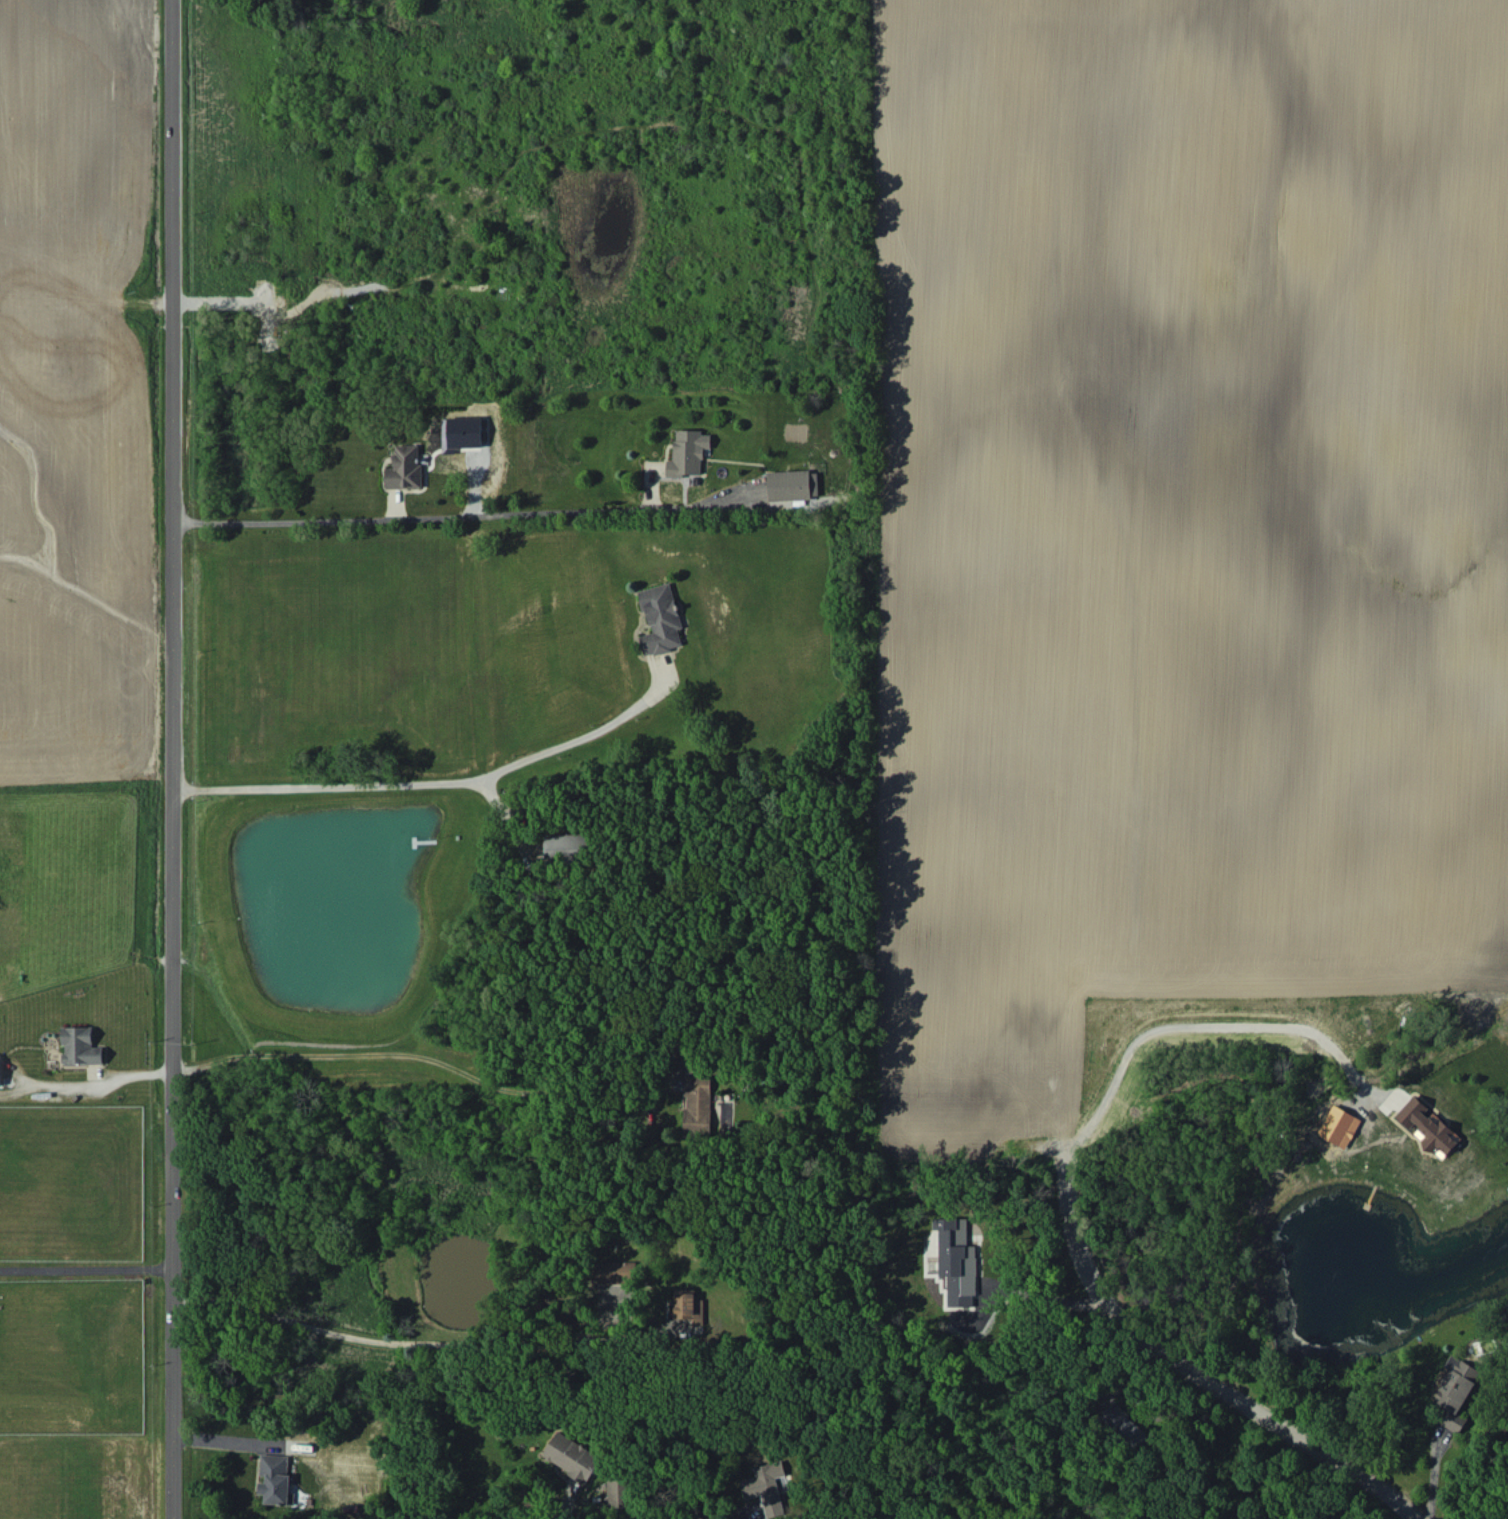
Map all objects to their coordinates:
building: (462, 439)
building: (688, 452)
building: (405, 467)
building: (793, 484)
road: (414, 511)
building: (660, 619)
road: (179, 759)
road: (430, 777)
building: (567, 846)
road: (1186, 1027)
building: (80, 1046)
road: (420, 1057)
building: (0, 1074)
road: (97, 1085)
building: (699, 1106)
building: (1428, 1125)
building: (1338, 1126)
building: (957, 1261)
road: (91, 1264)
building: (616, 1272)
road: (1038, 1300)
building: (688, 1305)
road: (417, 1347)
road: (1198, 1368)
building: (1454, 1392)
building: (1125, 1425)
road: (227, 1442)
building: (572, 1456)
building: (275, 1479)
building: (766, 1487)
building: (617, 1493)

